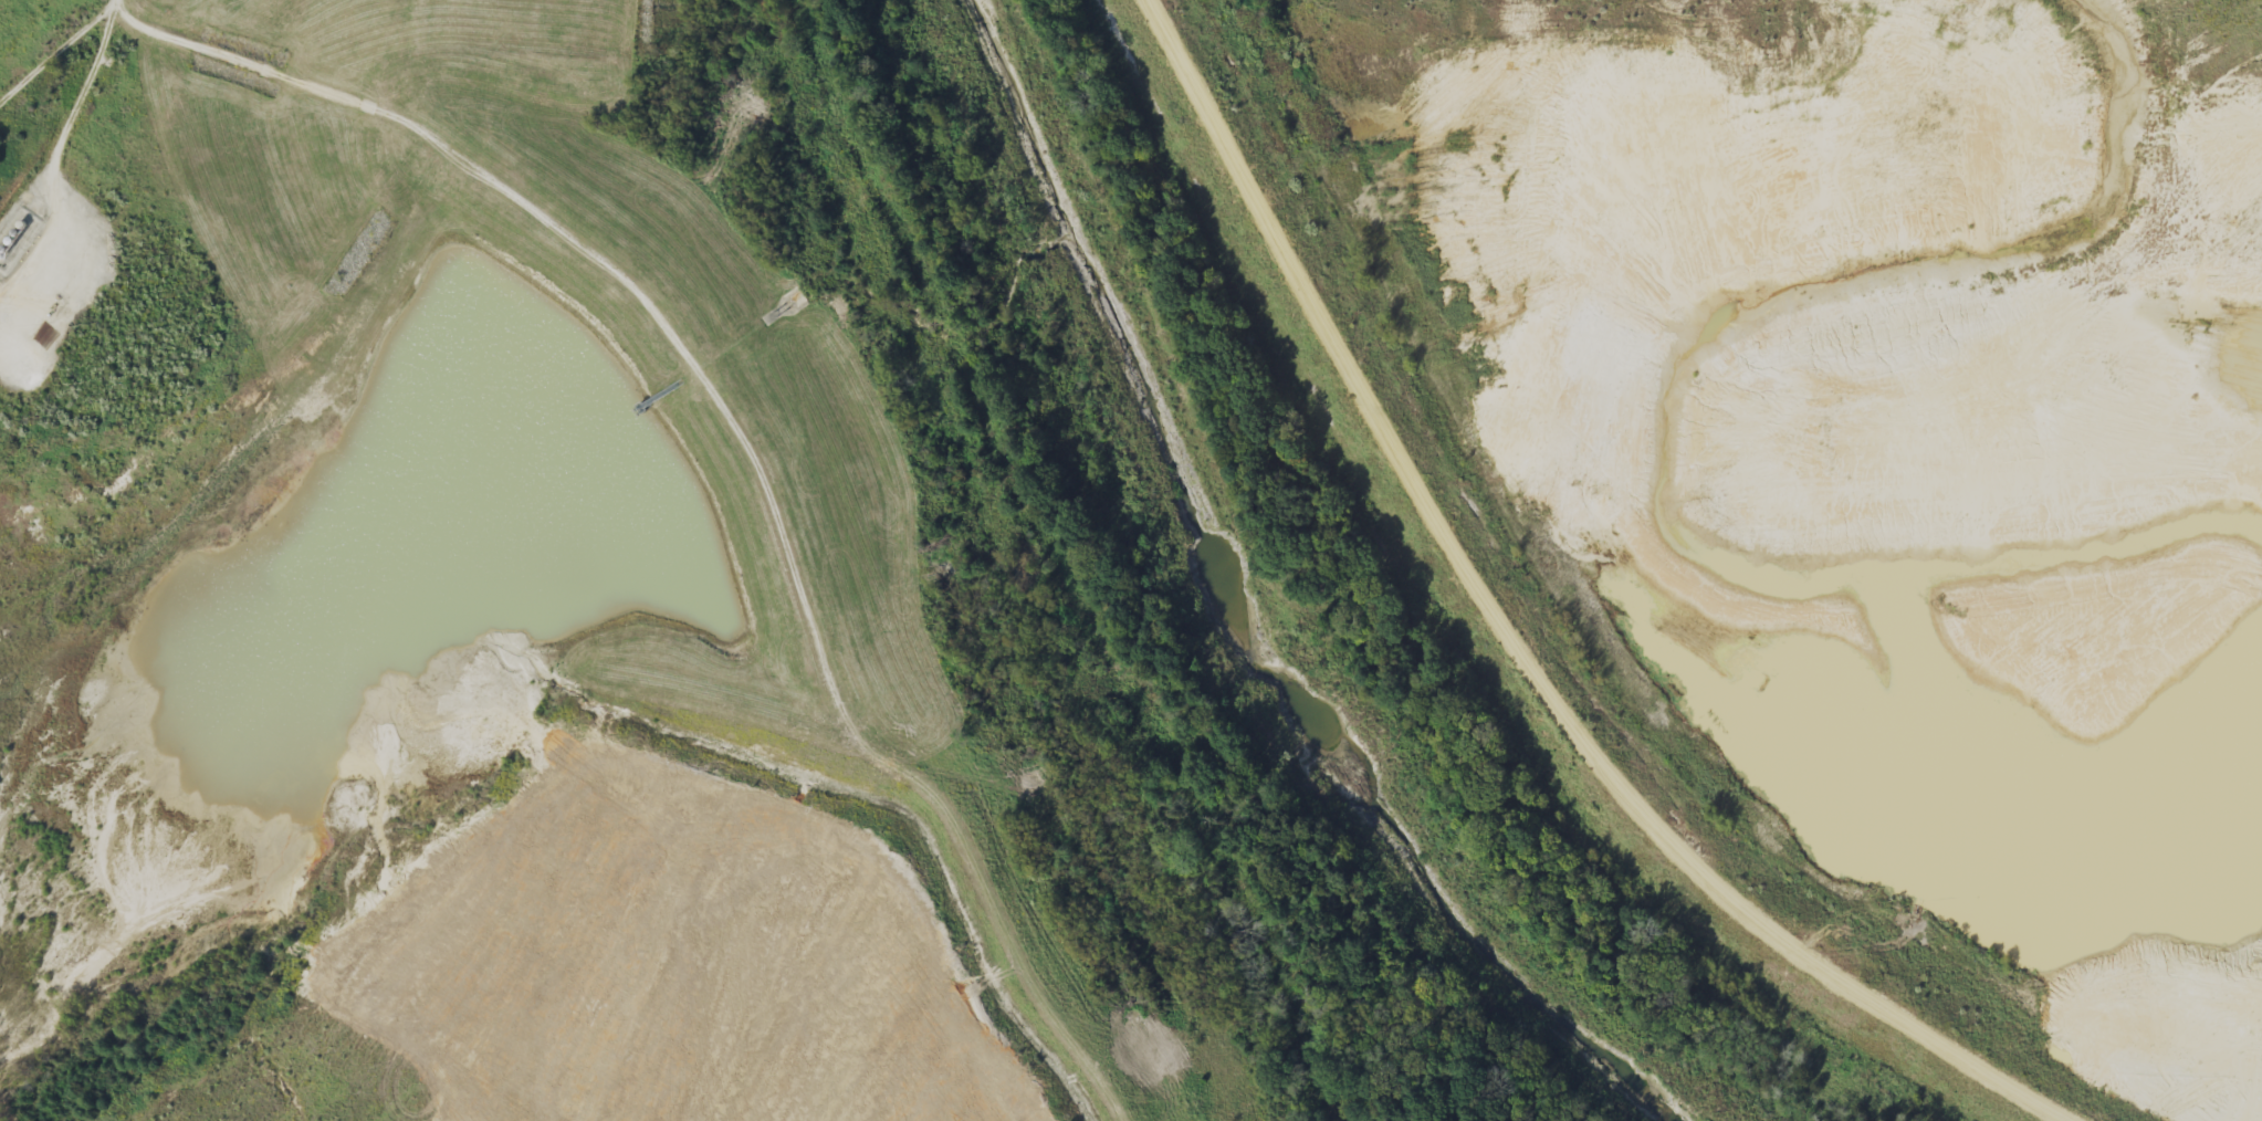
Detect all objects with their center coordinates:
quarry: (1896, 422)
quarry: (645, 1004)

